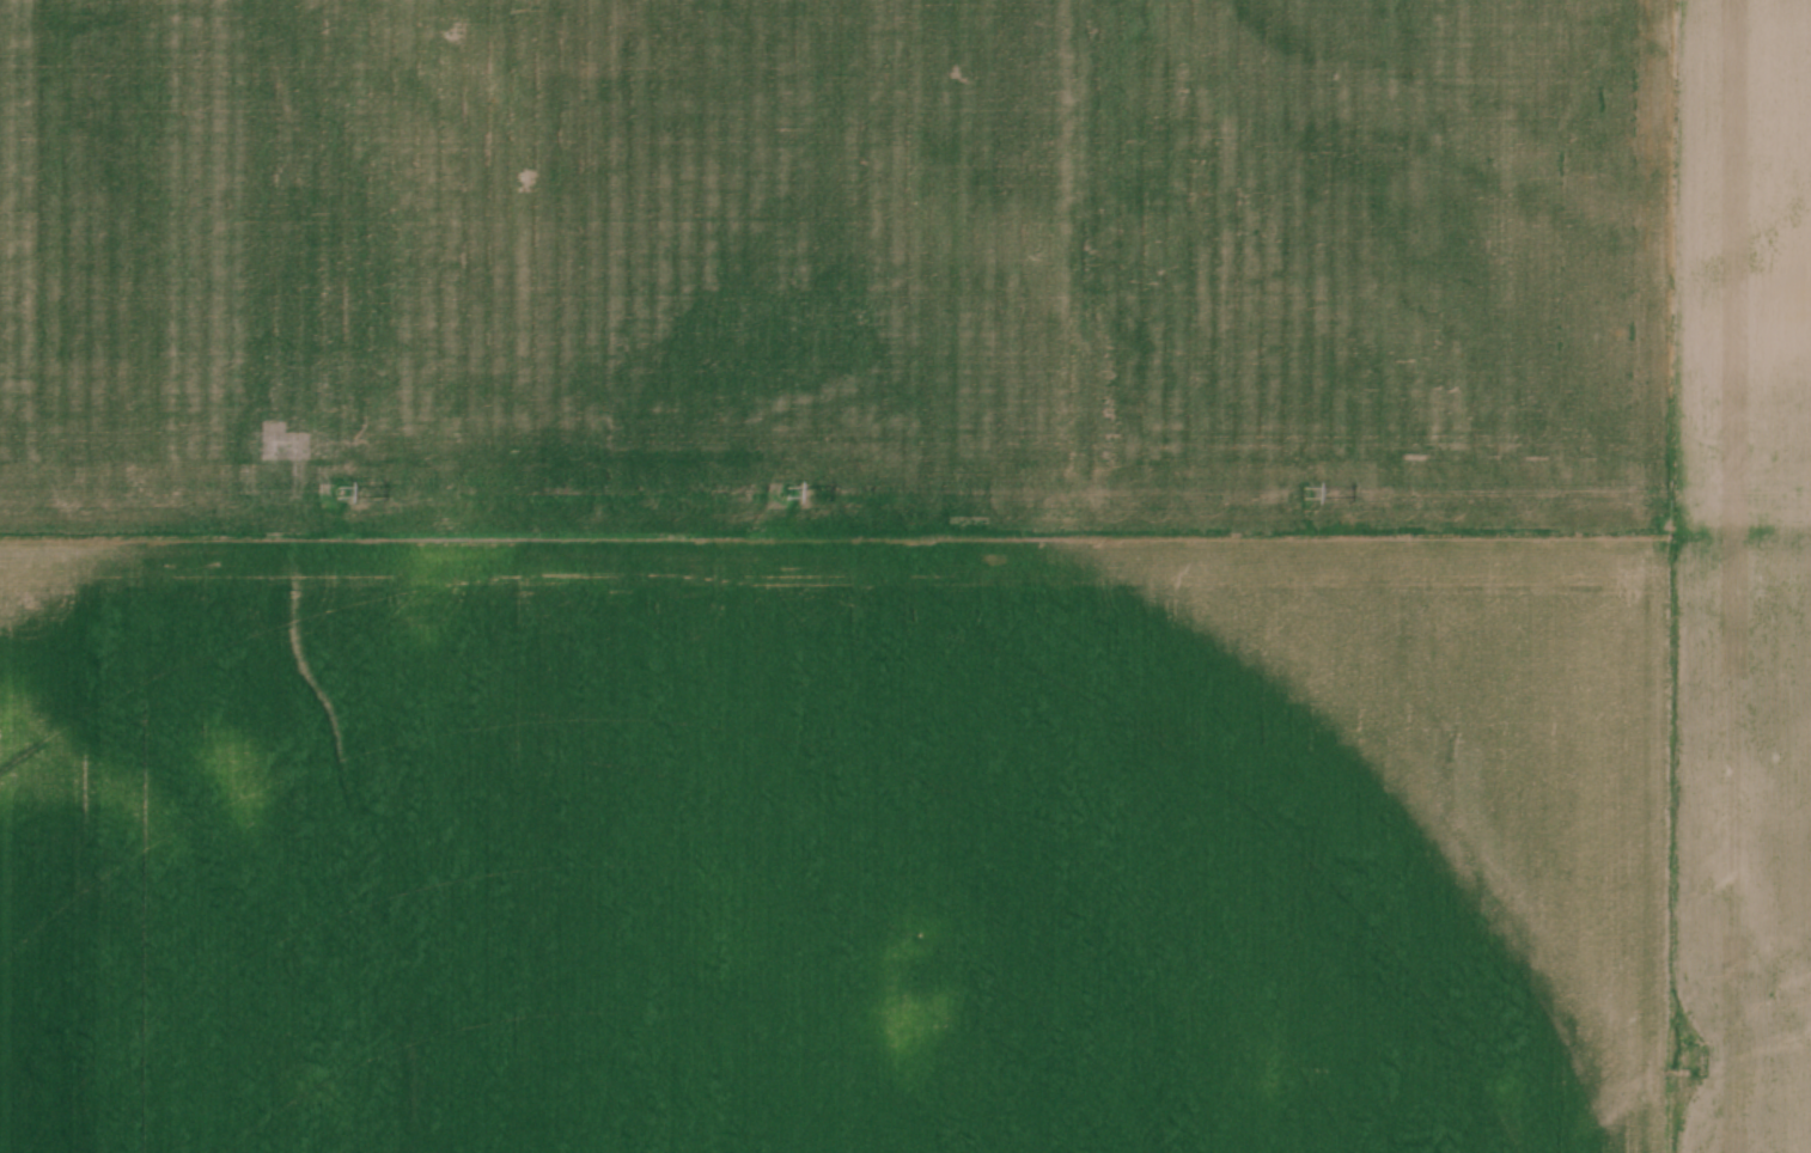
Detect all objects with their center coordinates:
power tower: (786, 492)
power tower: (340, 494)
power tower: (1307, 494)

